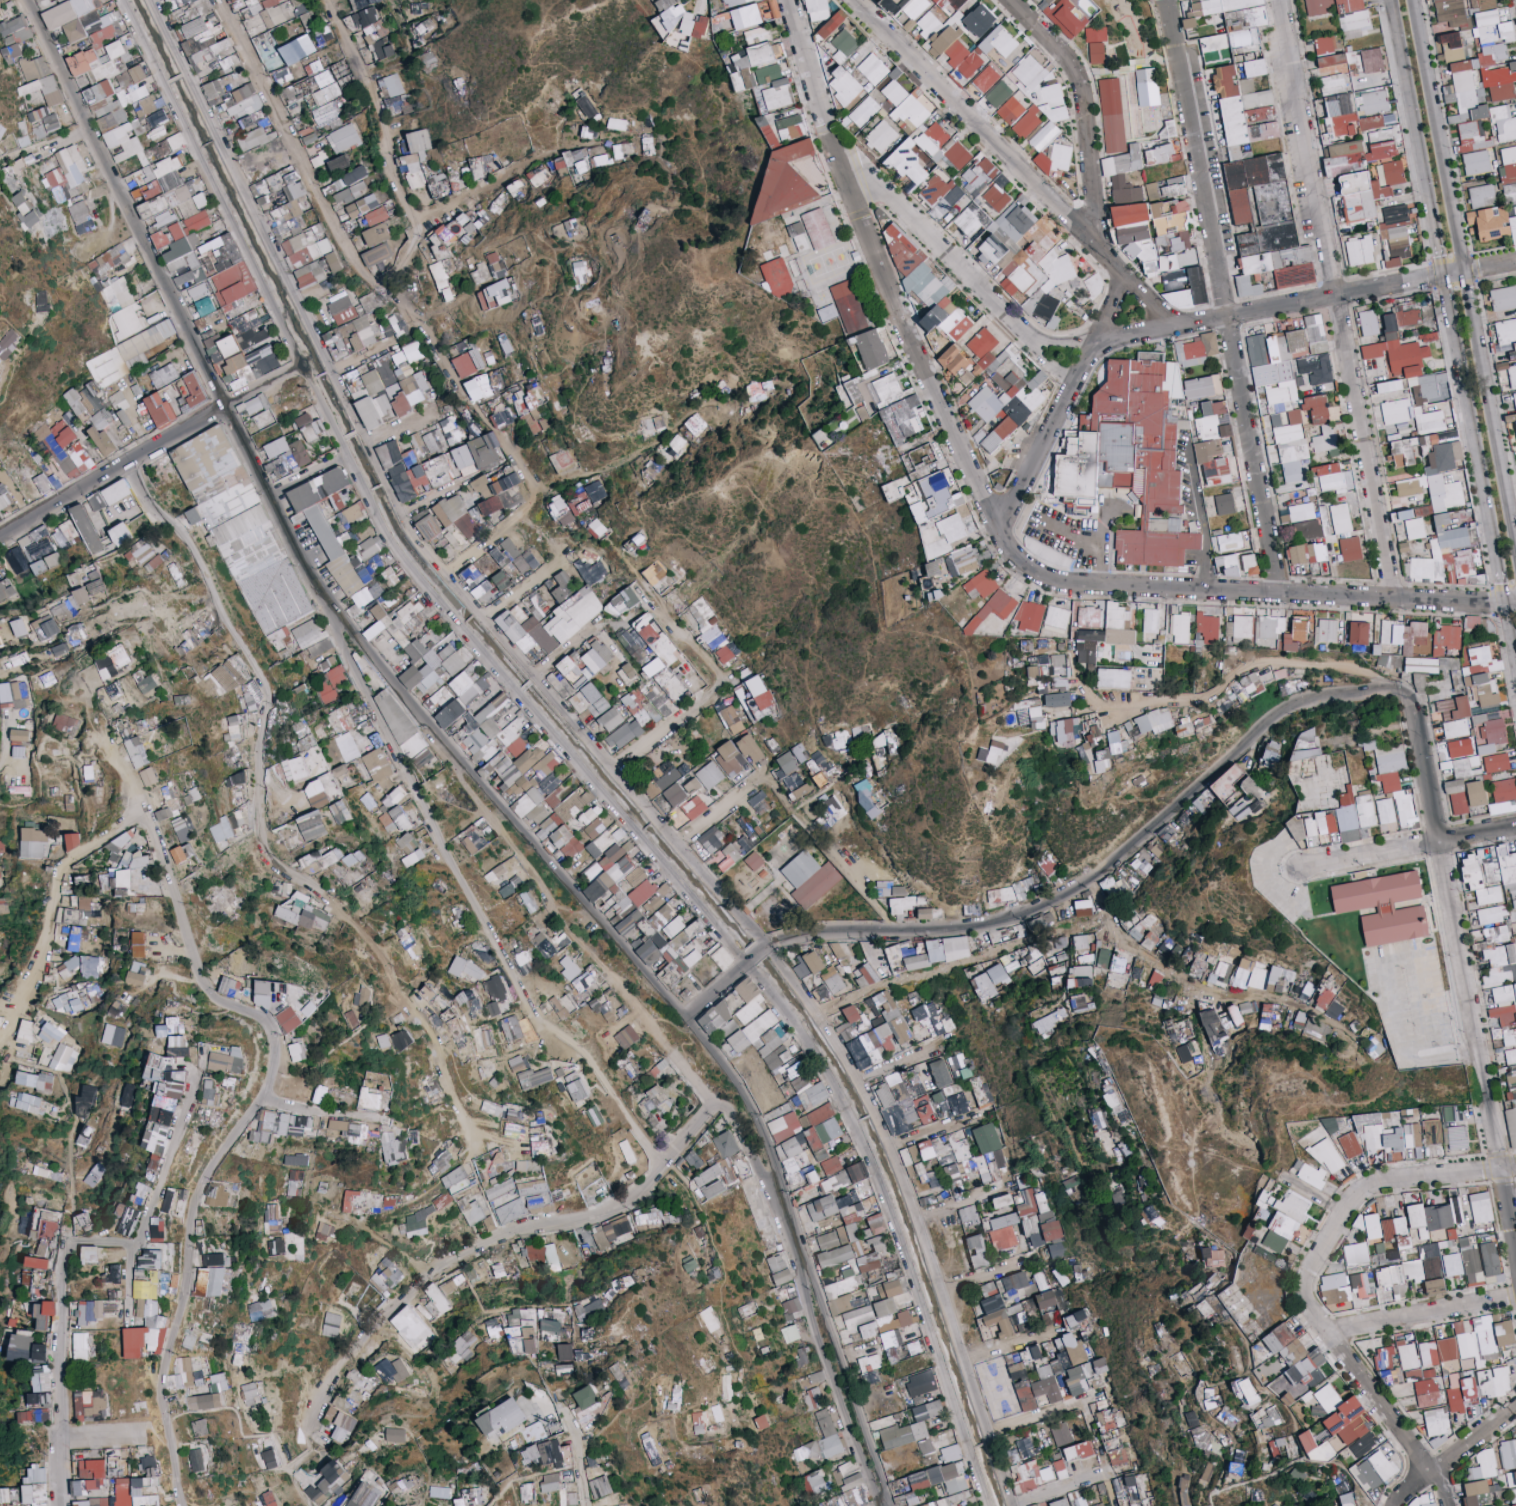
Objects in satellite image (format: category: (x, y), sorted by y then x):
building: (232, 0)
building: (373, 1)
building: (736, 1)
building: (177, 2)
building: (1042, 2)
building: (359, 4)
building: (665, 4)
building: (202, 6)
building: (1319, 7)
building: (417, 8)
building: (818, 9)
building: (265, 12)
building: (1352, 15)
building: (75, 16)
building: (747, 16)
building: (306, 19)
building: (675, 21)
building: (722, 22)
building: (369, 23)
building: (1455, 24)
building: (831, 25)
building: (424, 26)
building: (700, 27)
building: (1233, 28)
building: (14, 30)
building: (323, 34)
building: (102, 35)
building: (197, 35)
building: (955, 36)
building: (1324, 42)
building: (1096, 43)
building: (844, 45)
building: (382, 48)
building: (12, 52)
building: (208, 55)
building: (282, 55)
building: (428, 57)
building: (33, 65)
building: (873, 69)
building: (763, 71)
building: (903, 80)
building: (108, 83)
building: (845, 86)
building: (895, 87)
building: (234, 88)
building: (43, 89)
building: (313, 89)
building: (394, 95)
building: (586, 106)
building: (325, 114)
building: (45, 118)
building: (251, 119)
building: (2, 131)
building: (38, 132)
building: (157, 132)
building: (308, 136)
building: (251, 138)
building: (343, 138)
building: (121, 139)
building: (23, 140)
building: (176, 140)
building: (155, 149)

